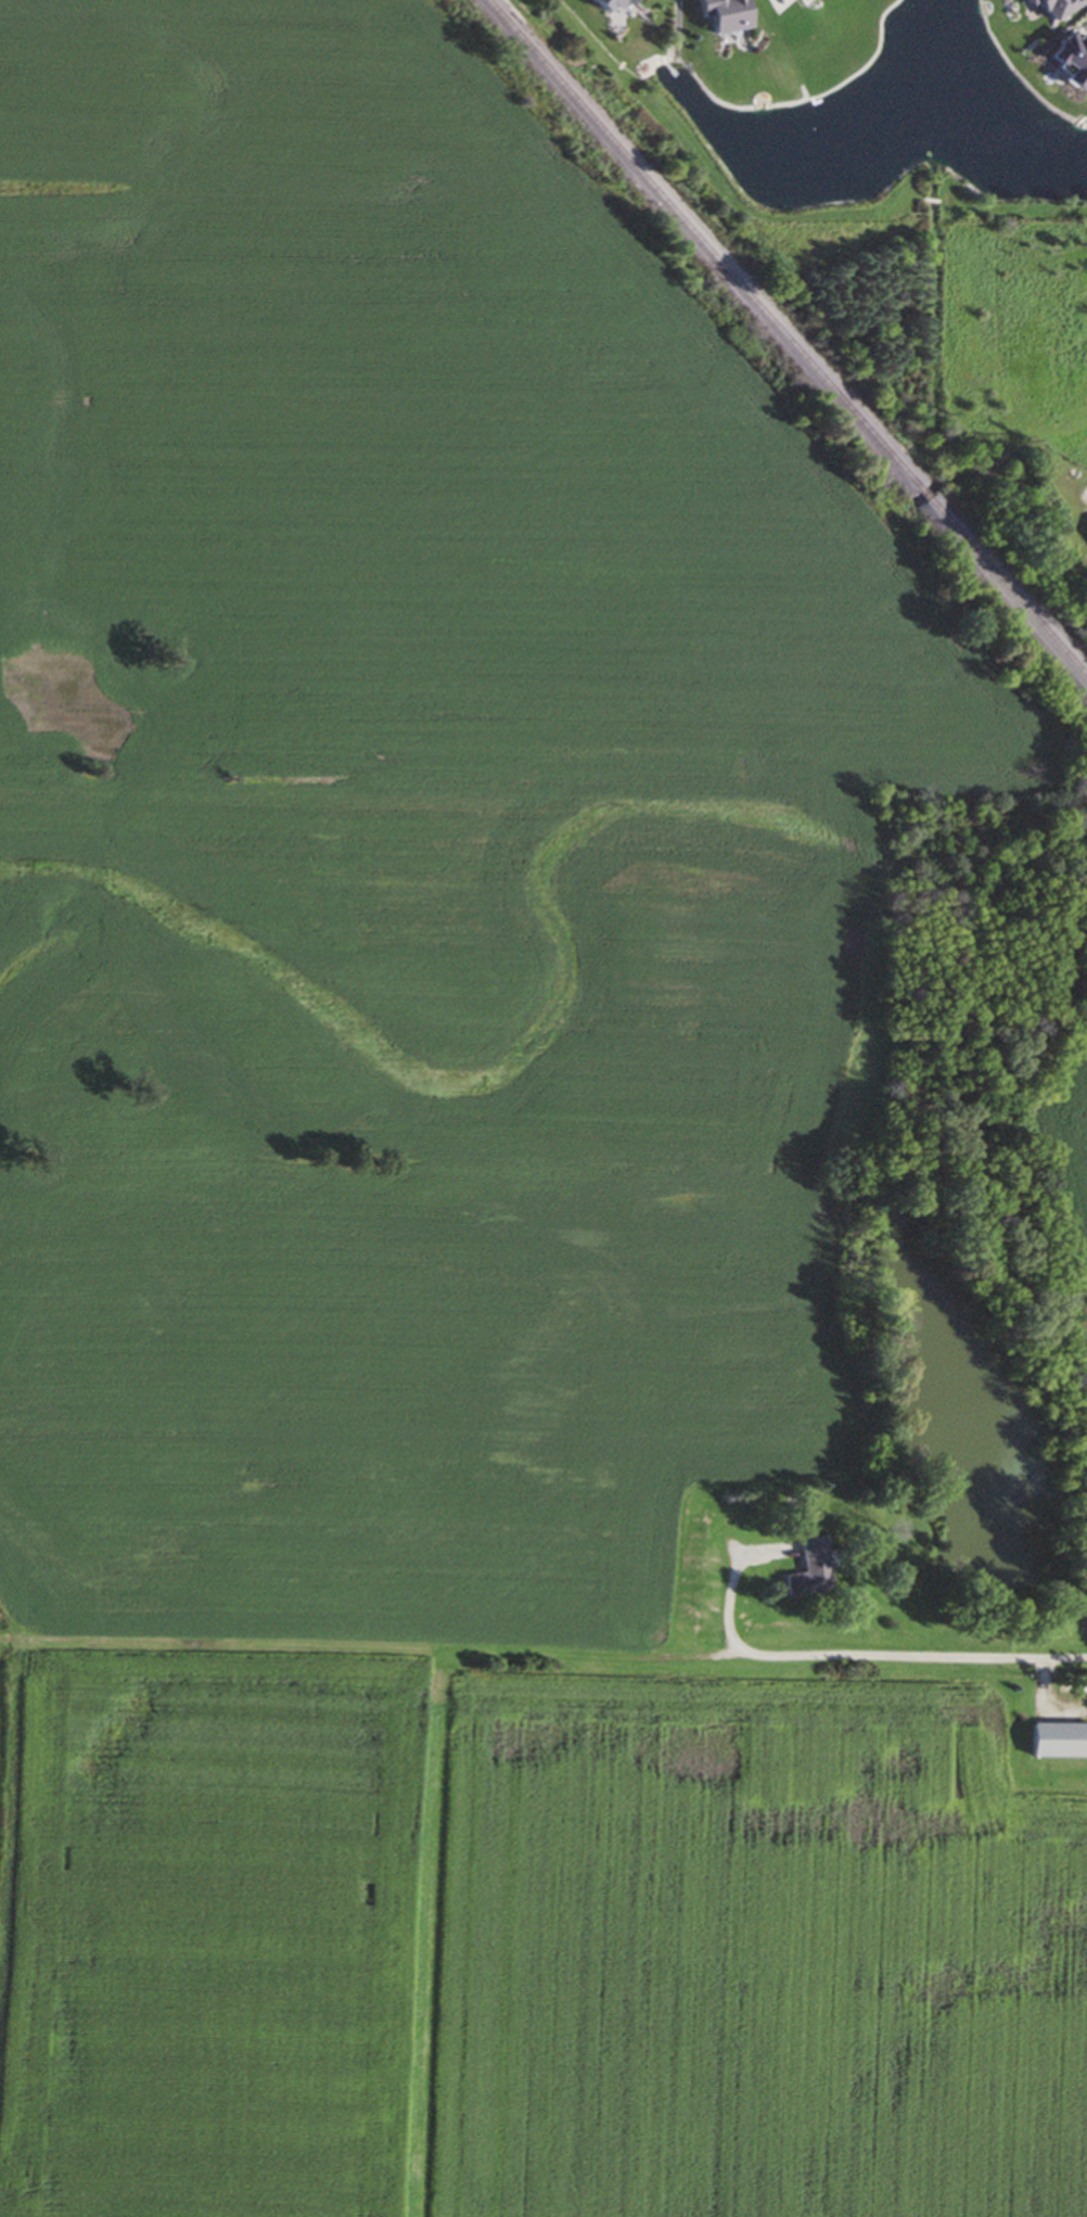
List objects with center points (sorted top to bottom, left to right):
building: (628, 1)
building: (1031, 1)
building: (608, 3)
building: (1057, 5)
building: (725, 13)
building: (1073, 58)
railway: (703, 245)
railway: (926, 497)
railway: (1009, 590)
road: (366, 1643)
road: (890, 1668)

